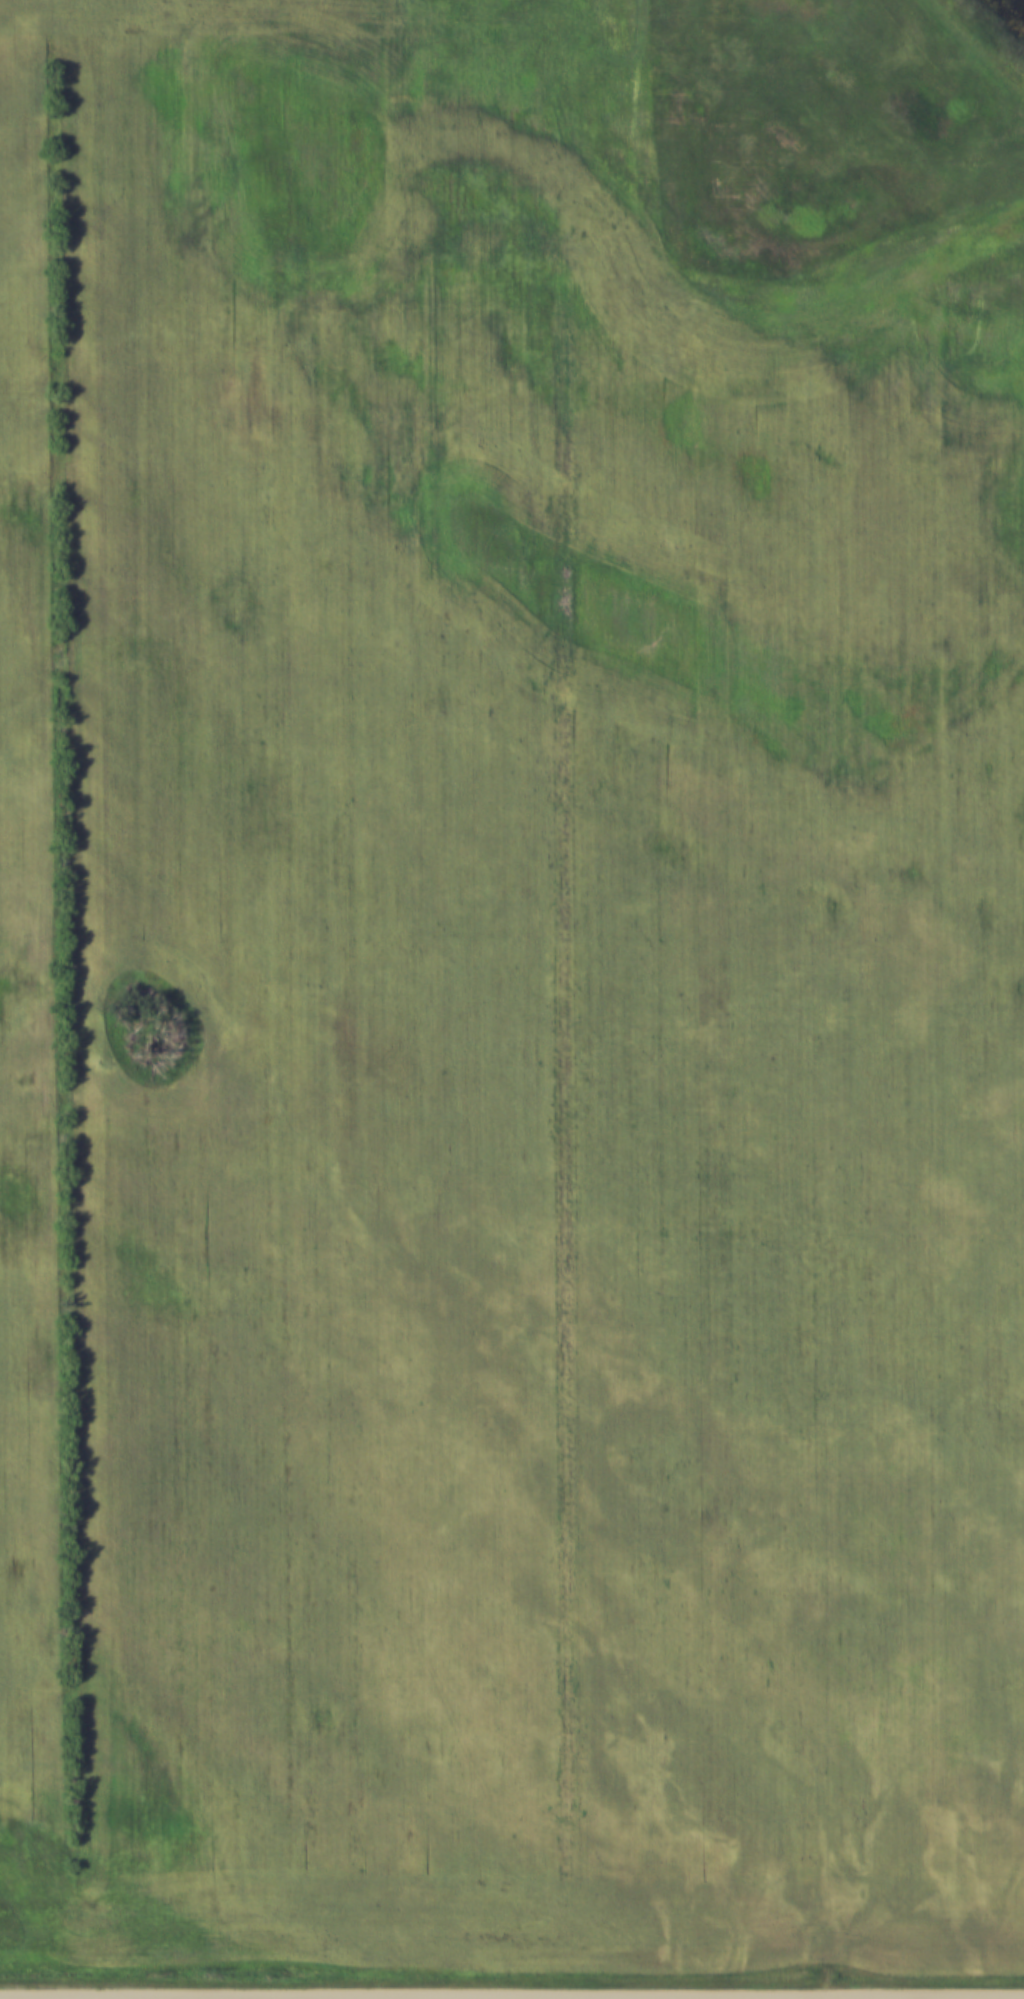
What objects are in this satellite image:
road: (511, 1994)

